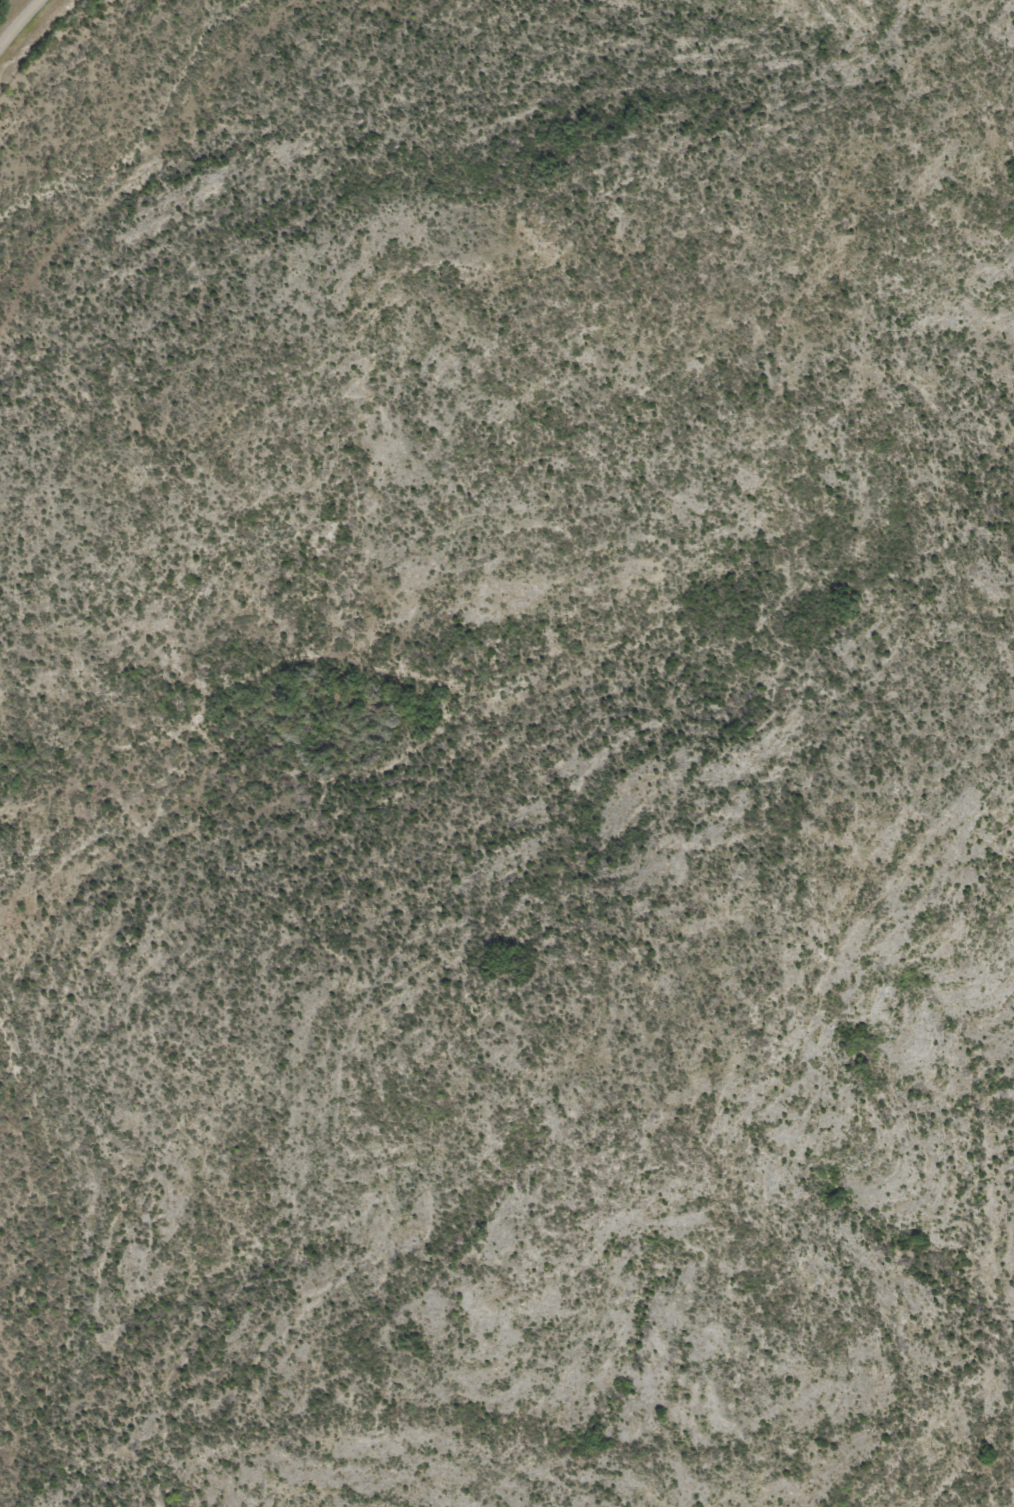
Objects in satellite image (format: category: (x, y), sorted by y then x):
road: (16, 19)

